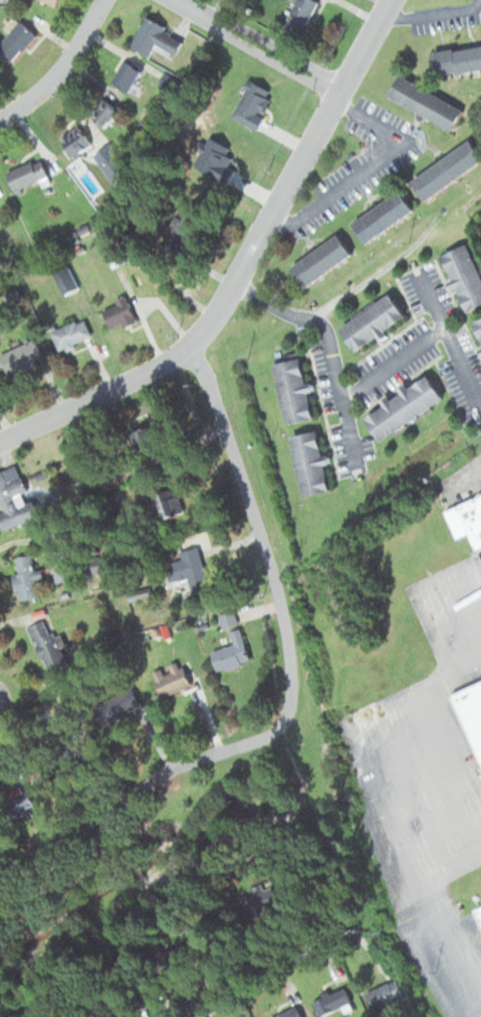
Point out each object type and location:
building: (51, 2)
road: (430, 14)
building: (299, 17)
building: (155, 38)
building: (15, 41)
road: (255, 49)
building: (457, 59)
road: (57, 64)
building: (126, 76)
building: (426, 102)
building: (104, 112)
building: (75, 140)
building: (110, 163)
building: (447, 170)
road: (364, 171)
building: (27, 173)
building: (383, 216)
building: (179, 228)
building: (113, 248)
building: (321, 260)
building: (466, 275)
building: (64, 279)
building: (118, 314)
building: (373, 322)
building: (478, 326)
building: (70, 335)
road: (199, 335)
road: (448, 337)
road: (328, 350)
road: (393, 365)
building: (294, 391)
road: (94, 398)
building: (405, 407)
building: (142, 441)
building: (311, 464)
building: (14, 499)
building: (166, 505)
building: (467, 521)
building: (191, 572)
building: (26, 579)
road: (425, 602)
building: (227, 619)
building: (48, 644)
building: (231, 651)
building: (171, 677)
building: (118, 707)
building: (470, 711)
road: (143, 786)
building: (25, 802)
road: (377, 807)
building: (263, 895)
building: (479, 911)
road: (260, 974)
building: (384, 994)
building: (331, 1001)
building: (289, 1013)

